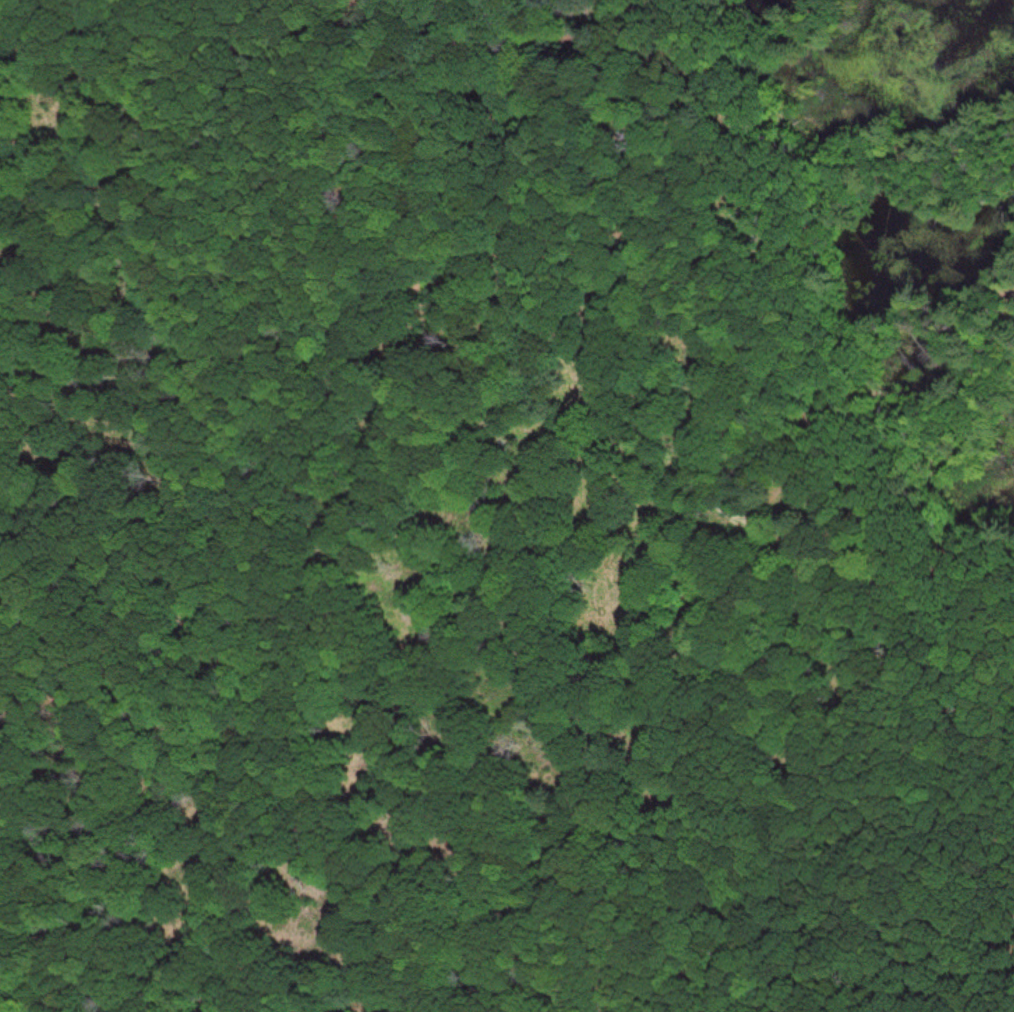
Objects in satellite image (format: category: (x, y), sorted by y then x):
park: (507, 506)

